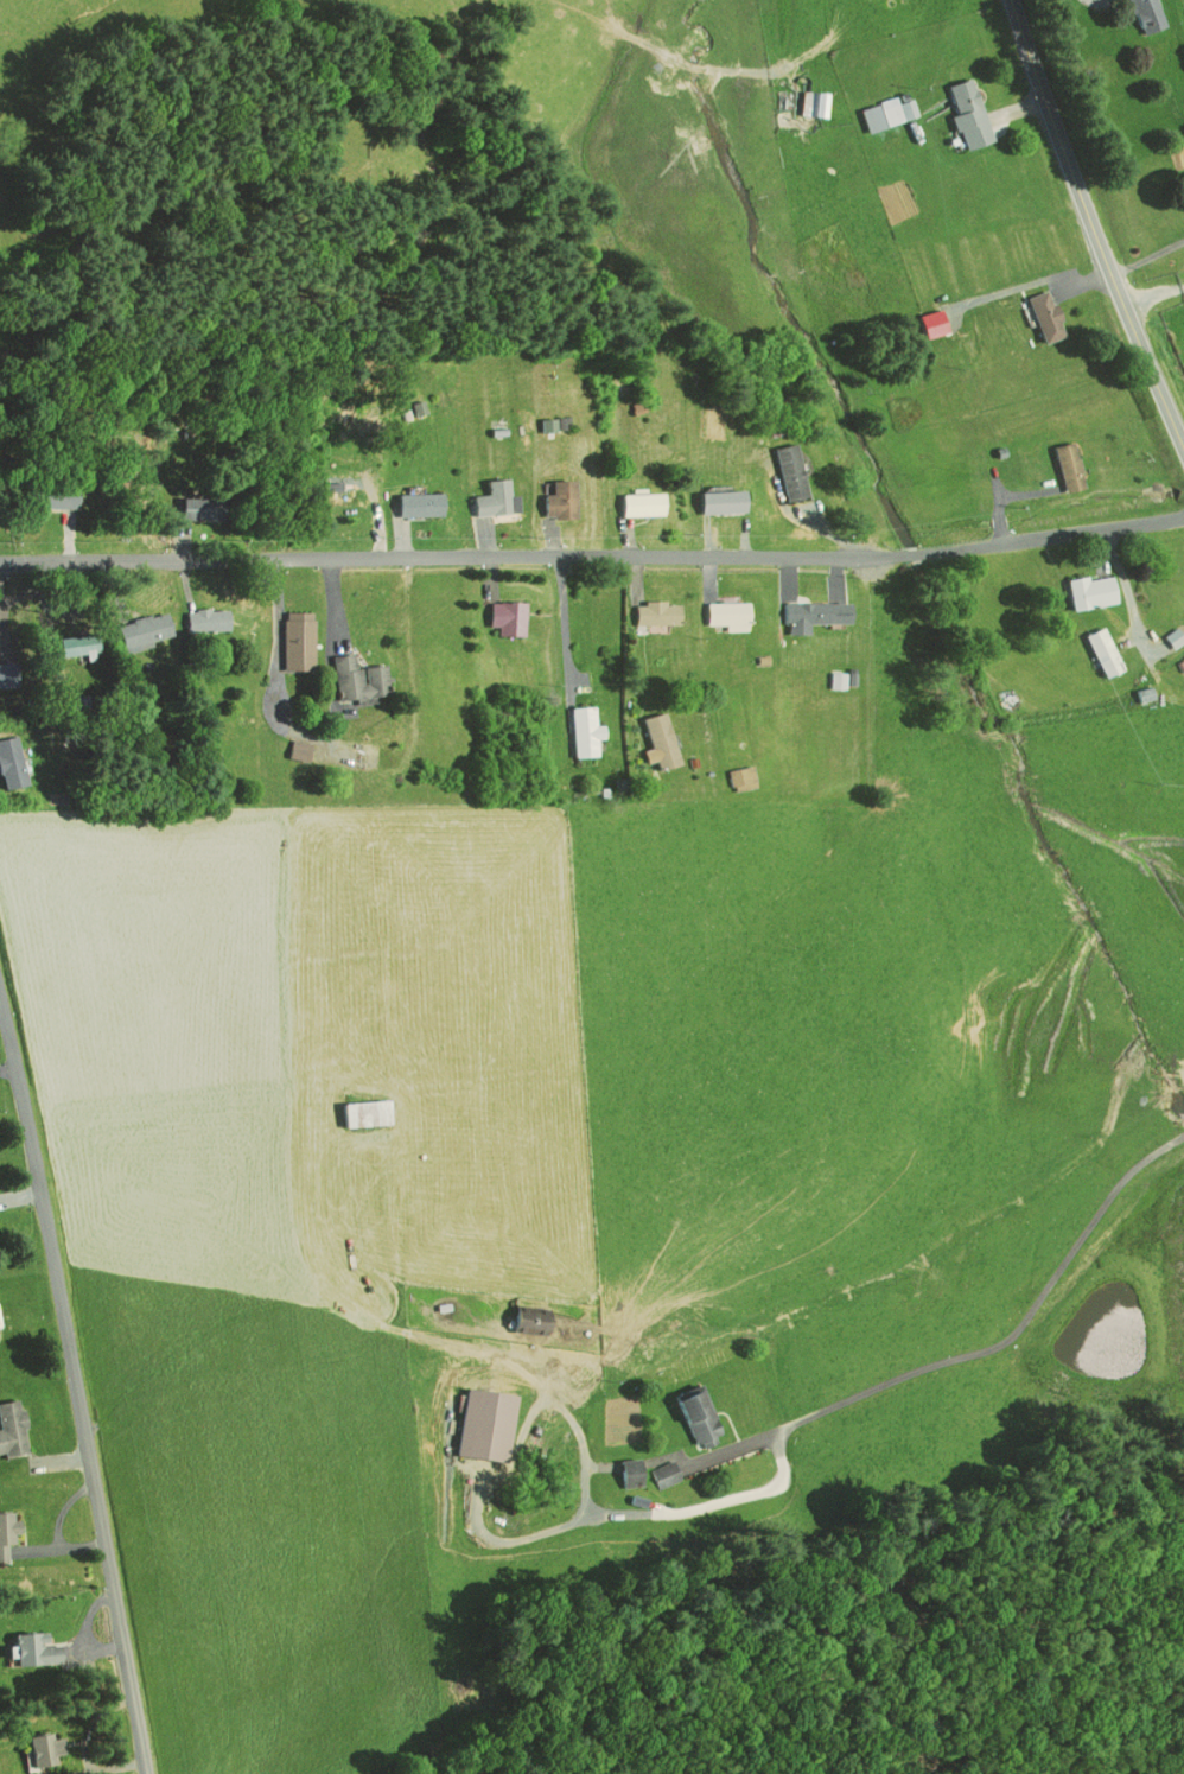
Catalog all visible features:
road: (1093, 227)
road: (1151, 290)
road: (593, 557)
road: (1131, 598)
road: (566, 632)
road: (991, 1352)
road: (75, 1385)

